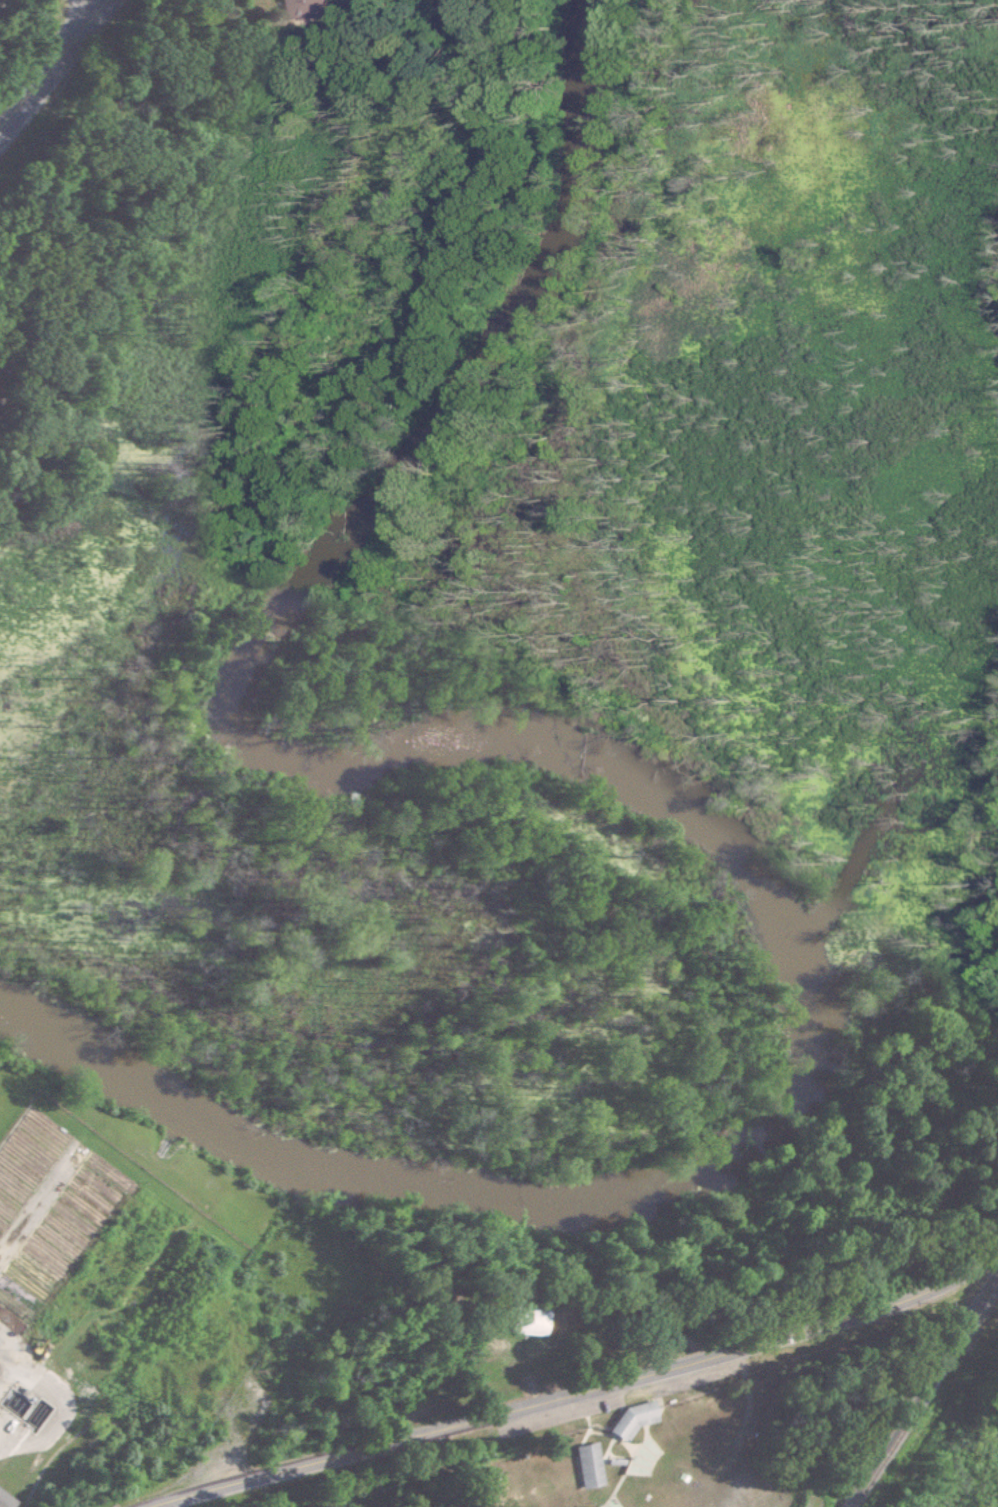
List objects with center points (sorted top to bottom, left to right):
building: (304, 9)
road: (76, 15)
road: (51, 60)
river: (635, 778)
building: (353, 800)
wastewater plant: (145, 1289)
building: (522, 1320)
road: (582, 1391)
railway: (926, 1393)
building: (629, 1419)
road: (3, 1437)
building: (590, 1465)
building: (5, 1500)

